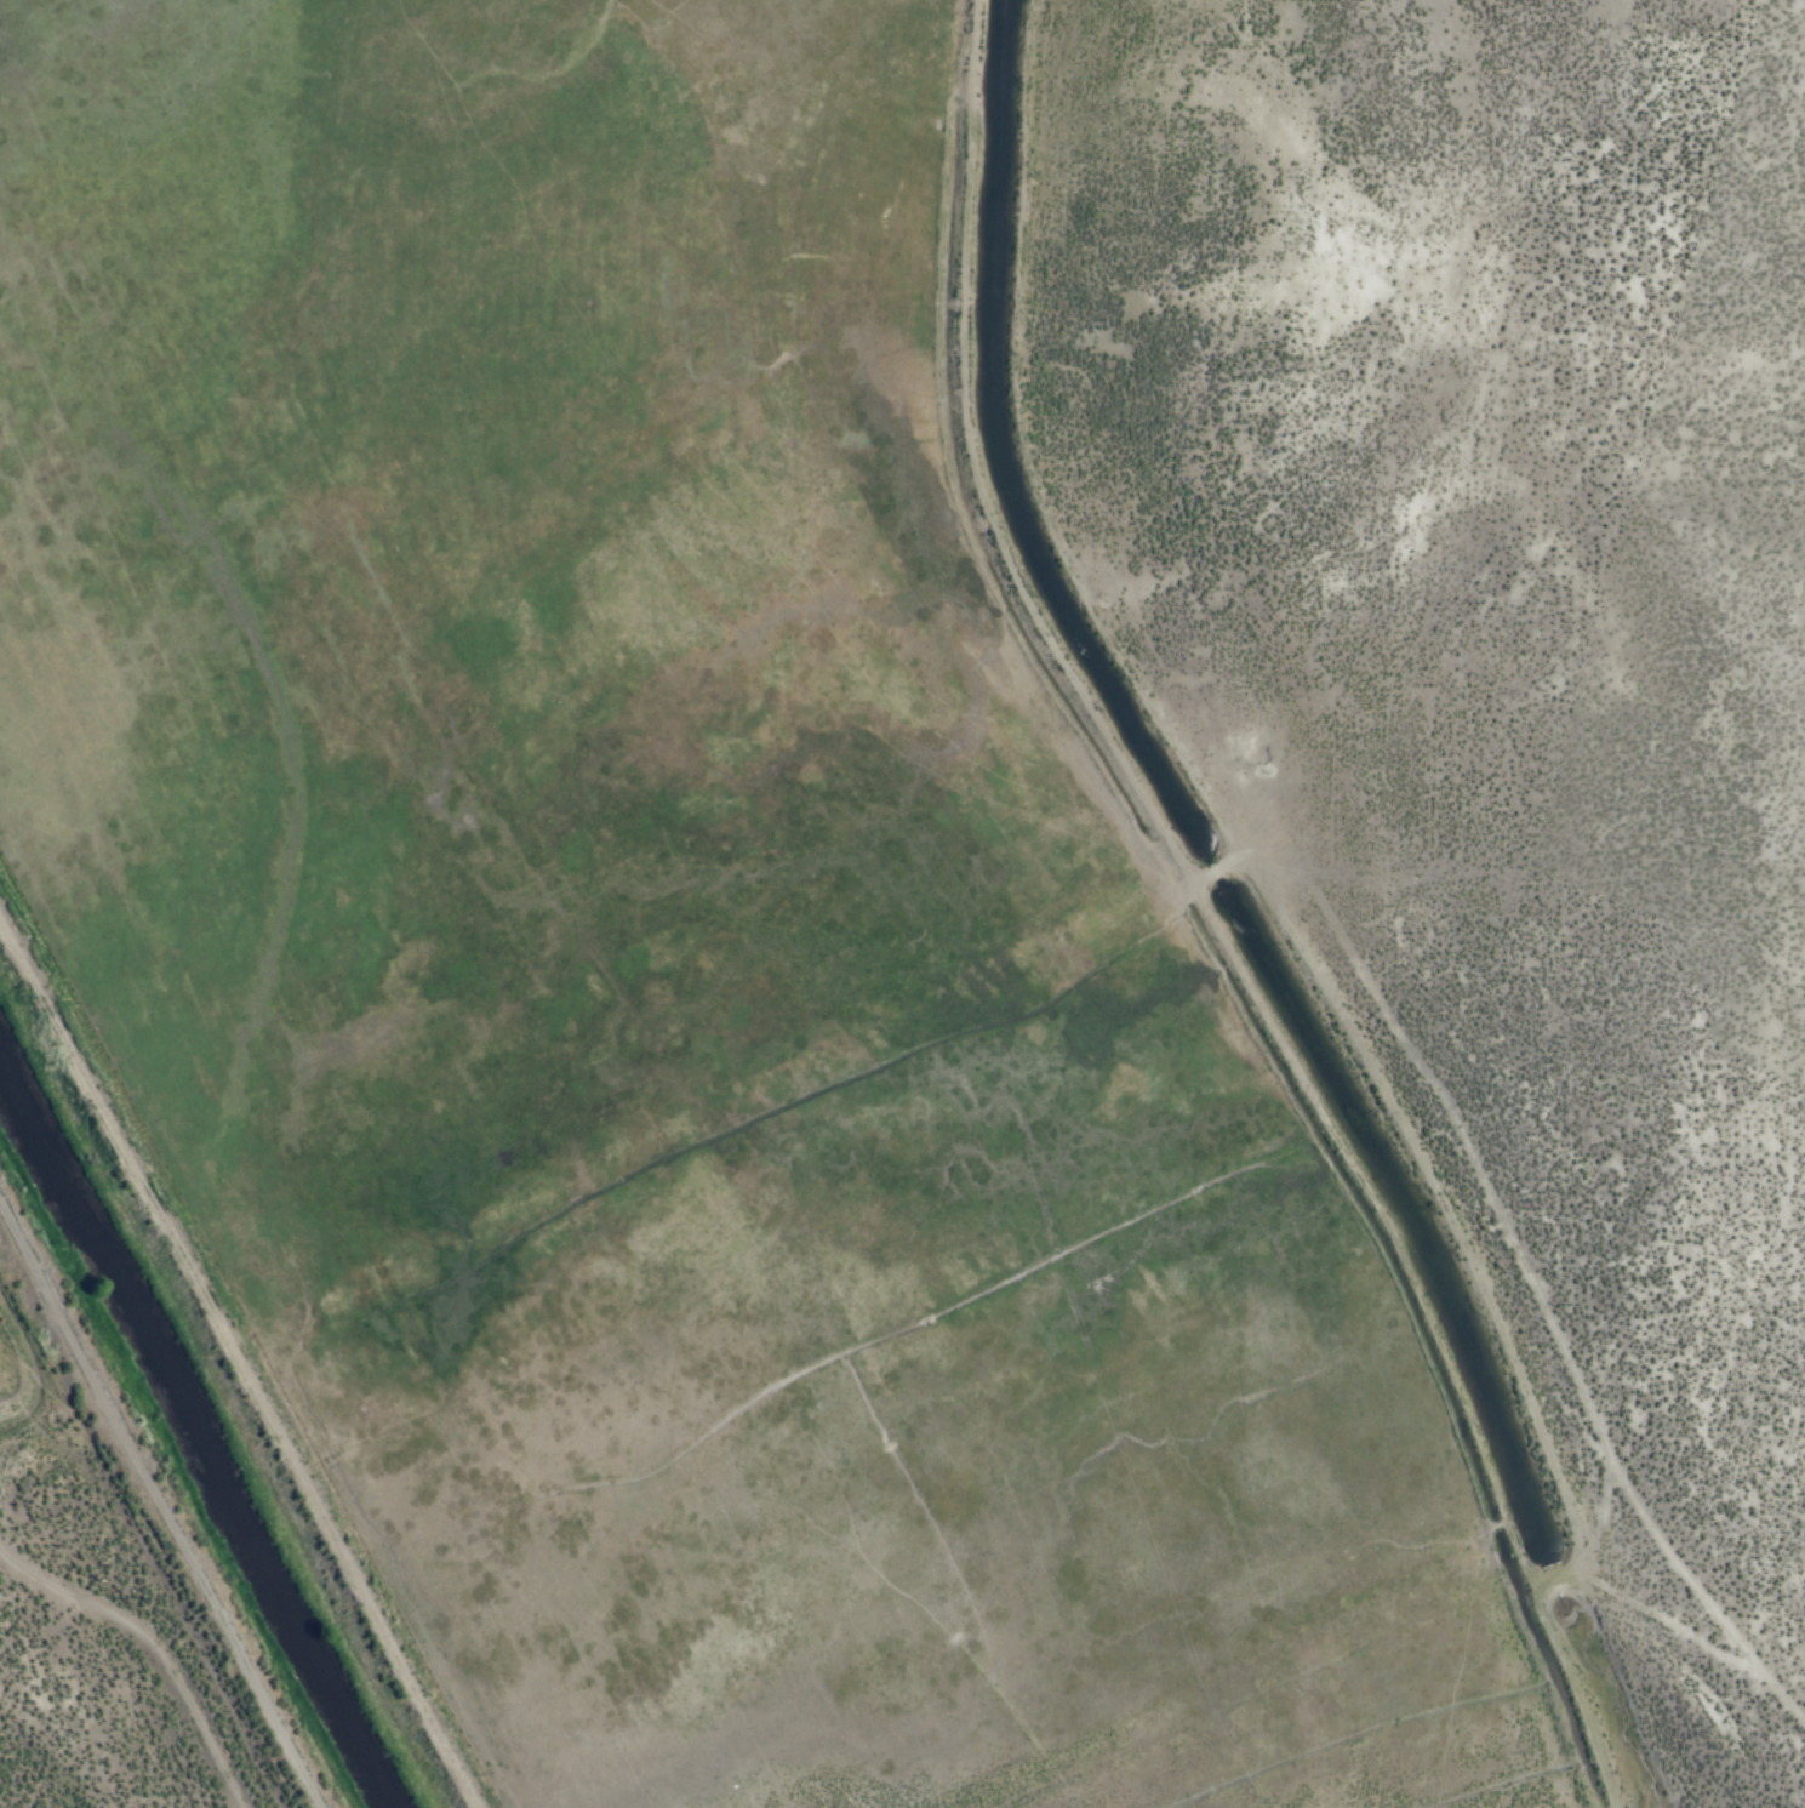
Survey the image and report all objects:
river: (194, 1442)
road: (138, 1547)

